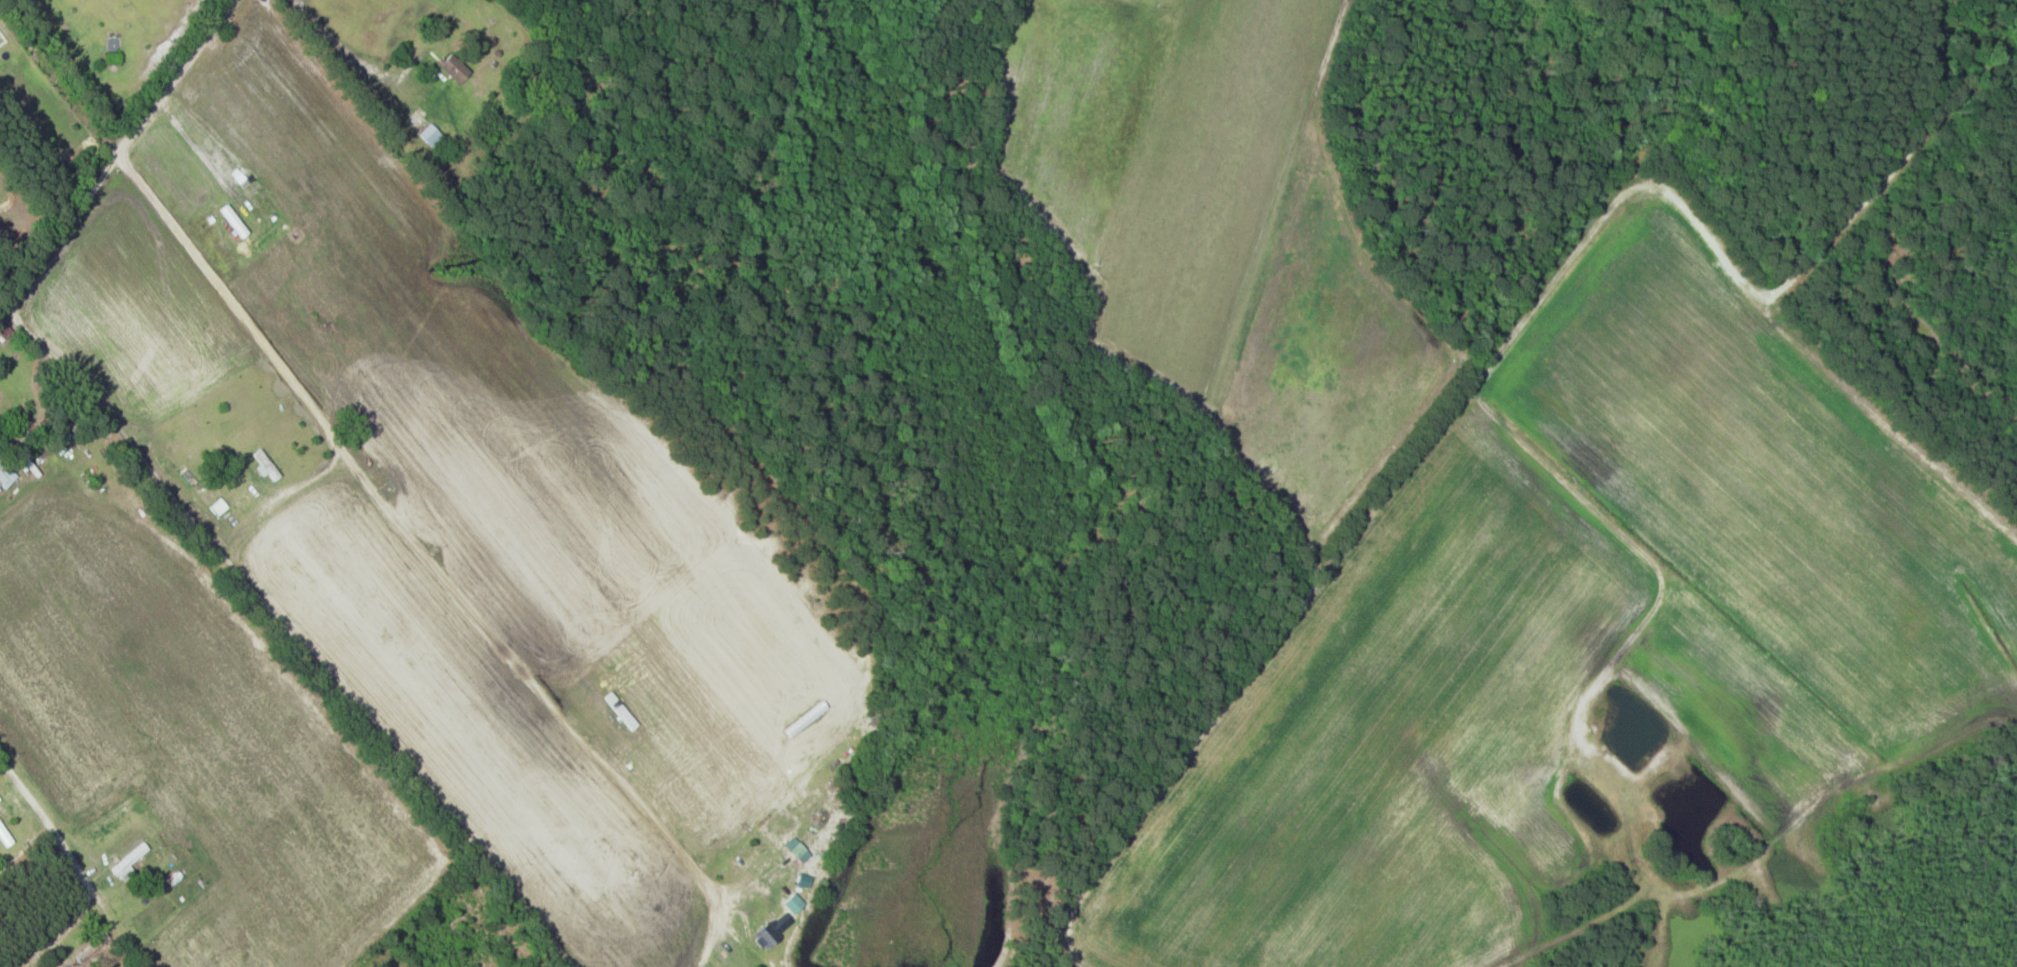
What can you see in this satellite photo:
building: (455, 68)
road: (176, 75)
building: (431, 134)
building: (6, 330)
building: (248, 433)
building: (6, 474)
road: (410, 538)
road: (12, 777)
building: (797, 850)
building: (130, 859)

